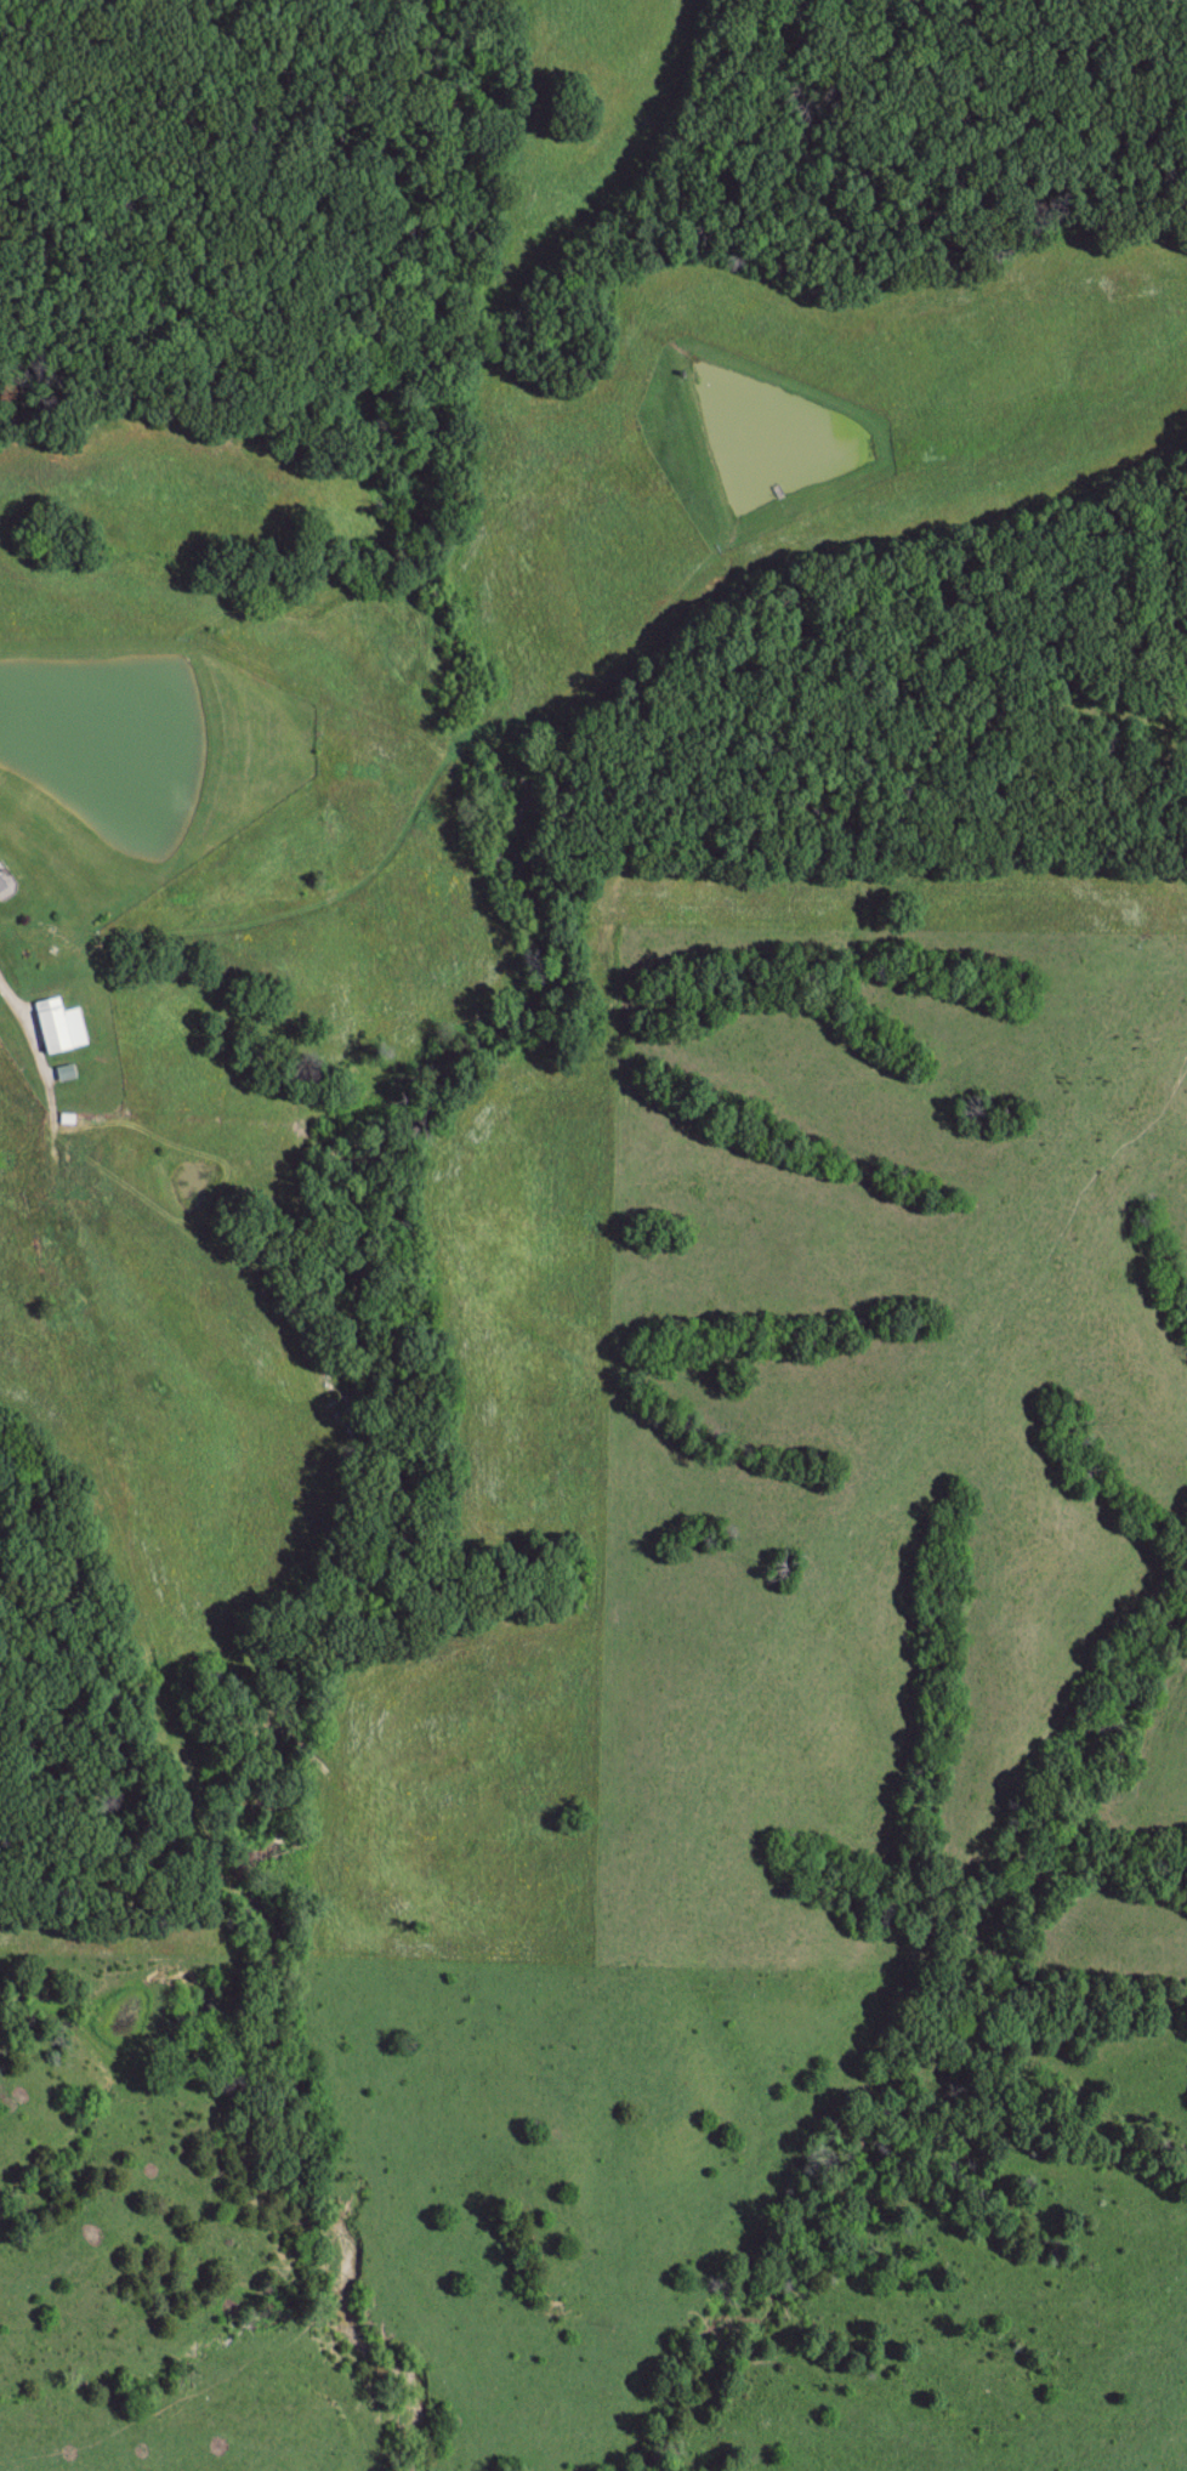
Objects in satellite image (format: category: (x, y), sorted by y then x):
building: (4, 885)
road: (18, 1004)
building: (64, 1027)

